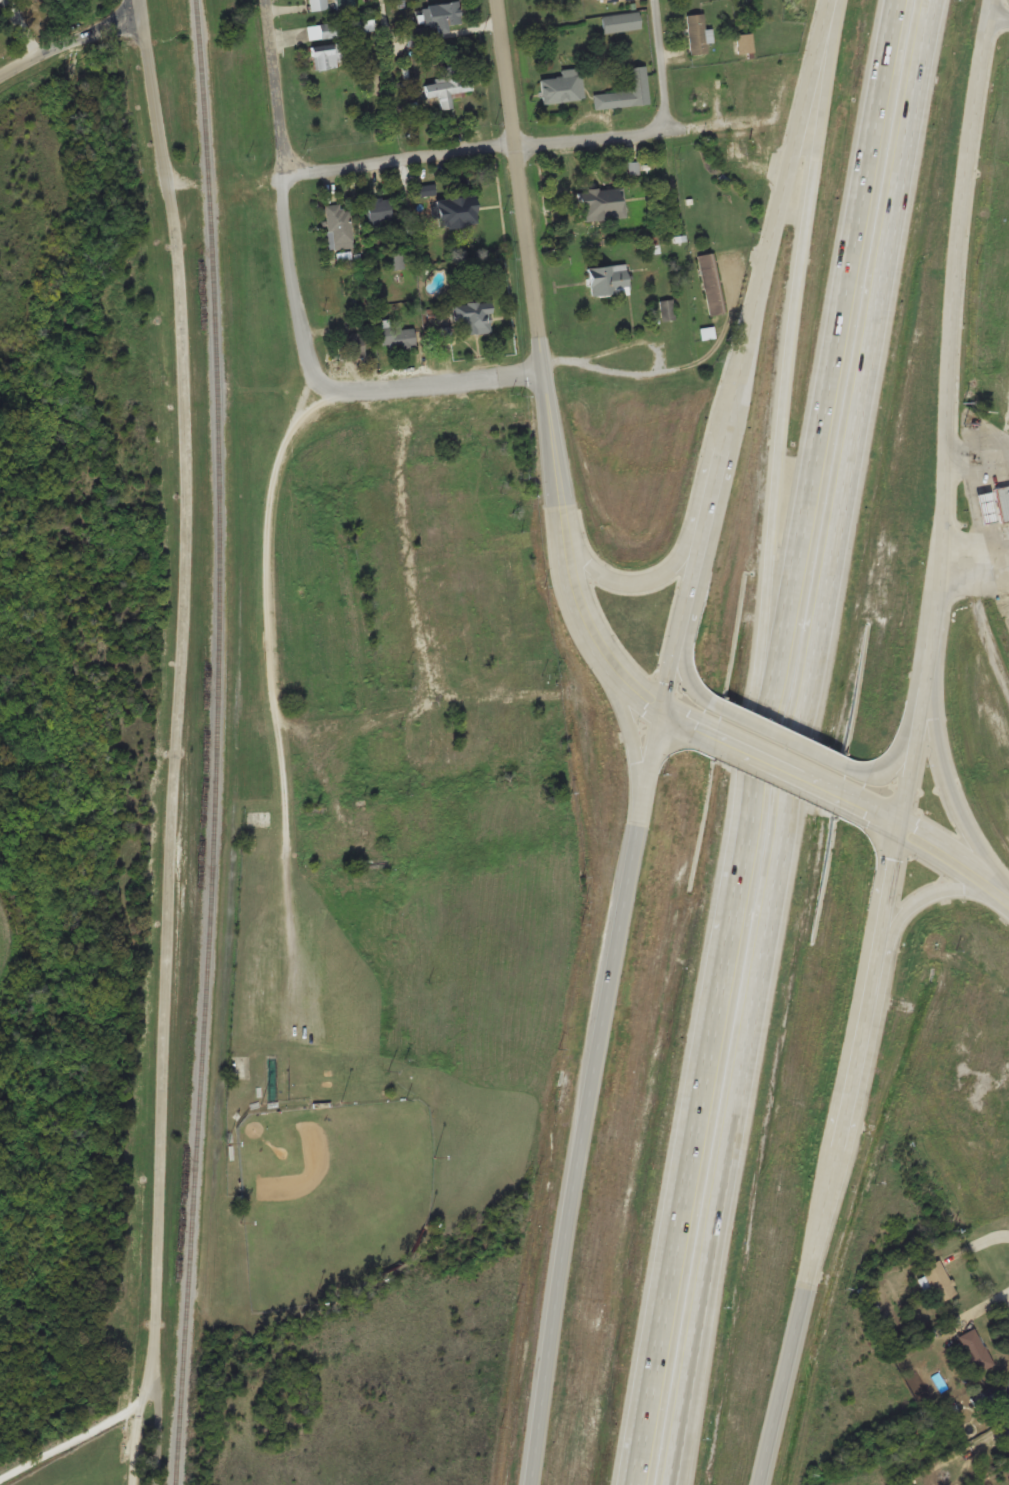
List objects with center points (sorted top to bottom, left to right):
building: (605, 0)
building: (827, 0)
building: (317, 5)
road: (998, 15)
building: (435, 21)
building: (620, 21)
building: (361, 26)
building: (328, 30)
building: (695, 33)
building: (744, 43)
road: (71, 46)
building: (326, 56)
road: (660, 63)
building: (448, 84)
building: (561, 86)
road: (274, 88)
building: (626, 91)
building: (702, 98)
road: (157, 110)
road: (475, 146)
building: (782, 146)
building: (598, 203)
building: (380, 210)
building: (454, 211)
building: (338, 226)
road: (292, 261)
building: (607, 280)
building: (711, 283)
building: (472, 316)
building: (444, 334)
building: (395, 336)
building: (351, 346)
road: (743, 352)
road: (544, 370)
road: (413, 386)
road: (945, 409)
building: (484, 425)
road: (775, 494)
building: (991, 505)
building: (454, 545)
building: (382, 568)
road: (630, 581)
building: (454, 651)
road: (684, 660)
building: (397, 674)
road: (276, 707)
road: (690, 718)
road: (630, 736)
road: (790, 739)
railway: (219, 742)
road: (763, 742)
road: (800, 742)
road: (897, 749)
building: (385, 756)
road: (778, 760)
road: (946, 782)
building: (258, 818)
road: (928, 837)
road: (169, 852)
road: (892, 876)
road: (938, 889)
building: (237, 1065)
road: (587, 1093)
building: (858, 1153)
park: (330, 1197)
road: (820, 1209)
building: (937, 1282)
building: (973, 1350)
building: (992, 1392)
road: (639, 1422)
road: (95, 1431)

